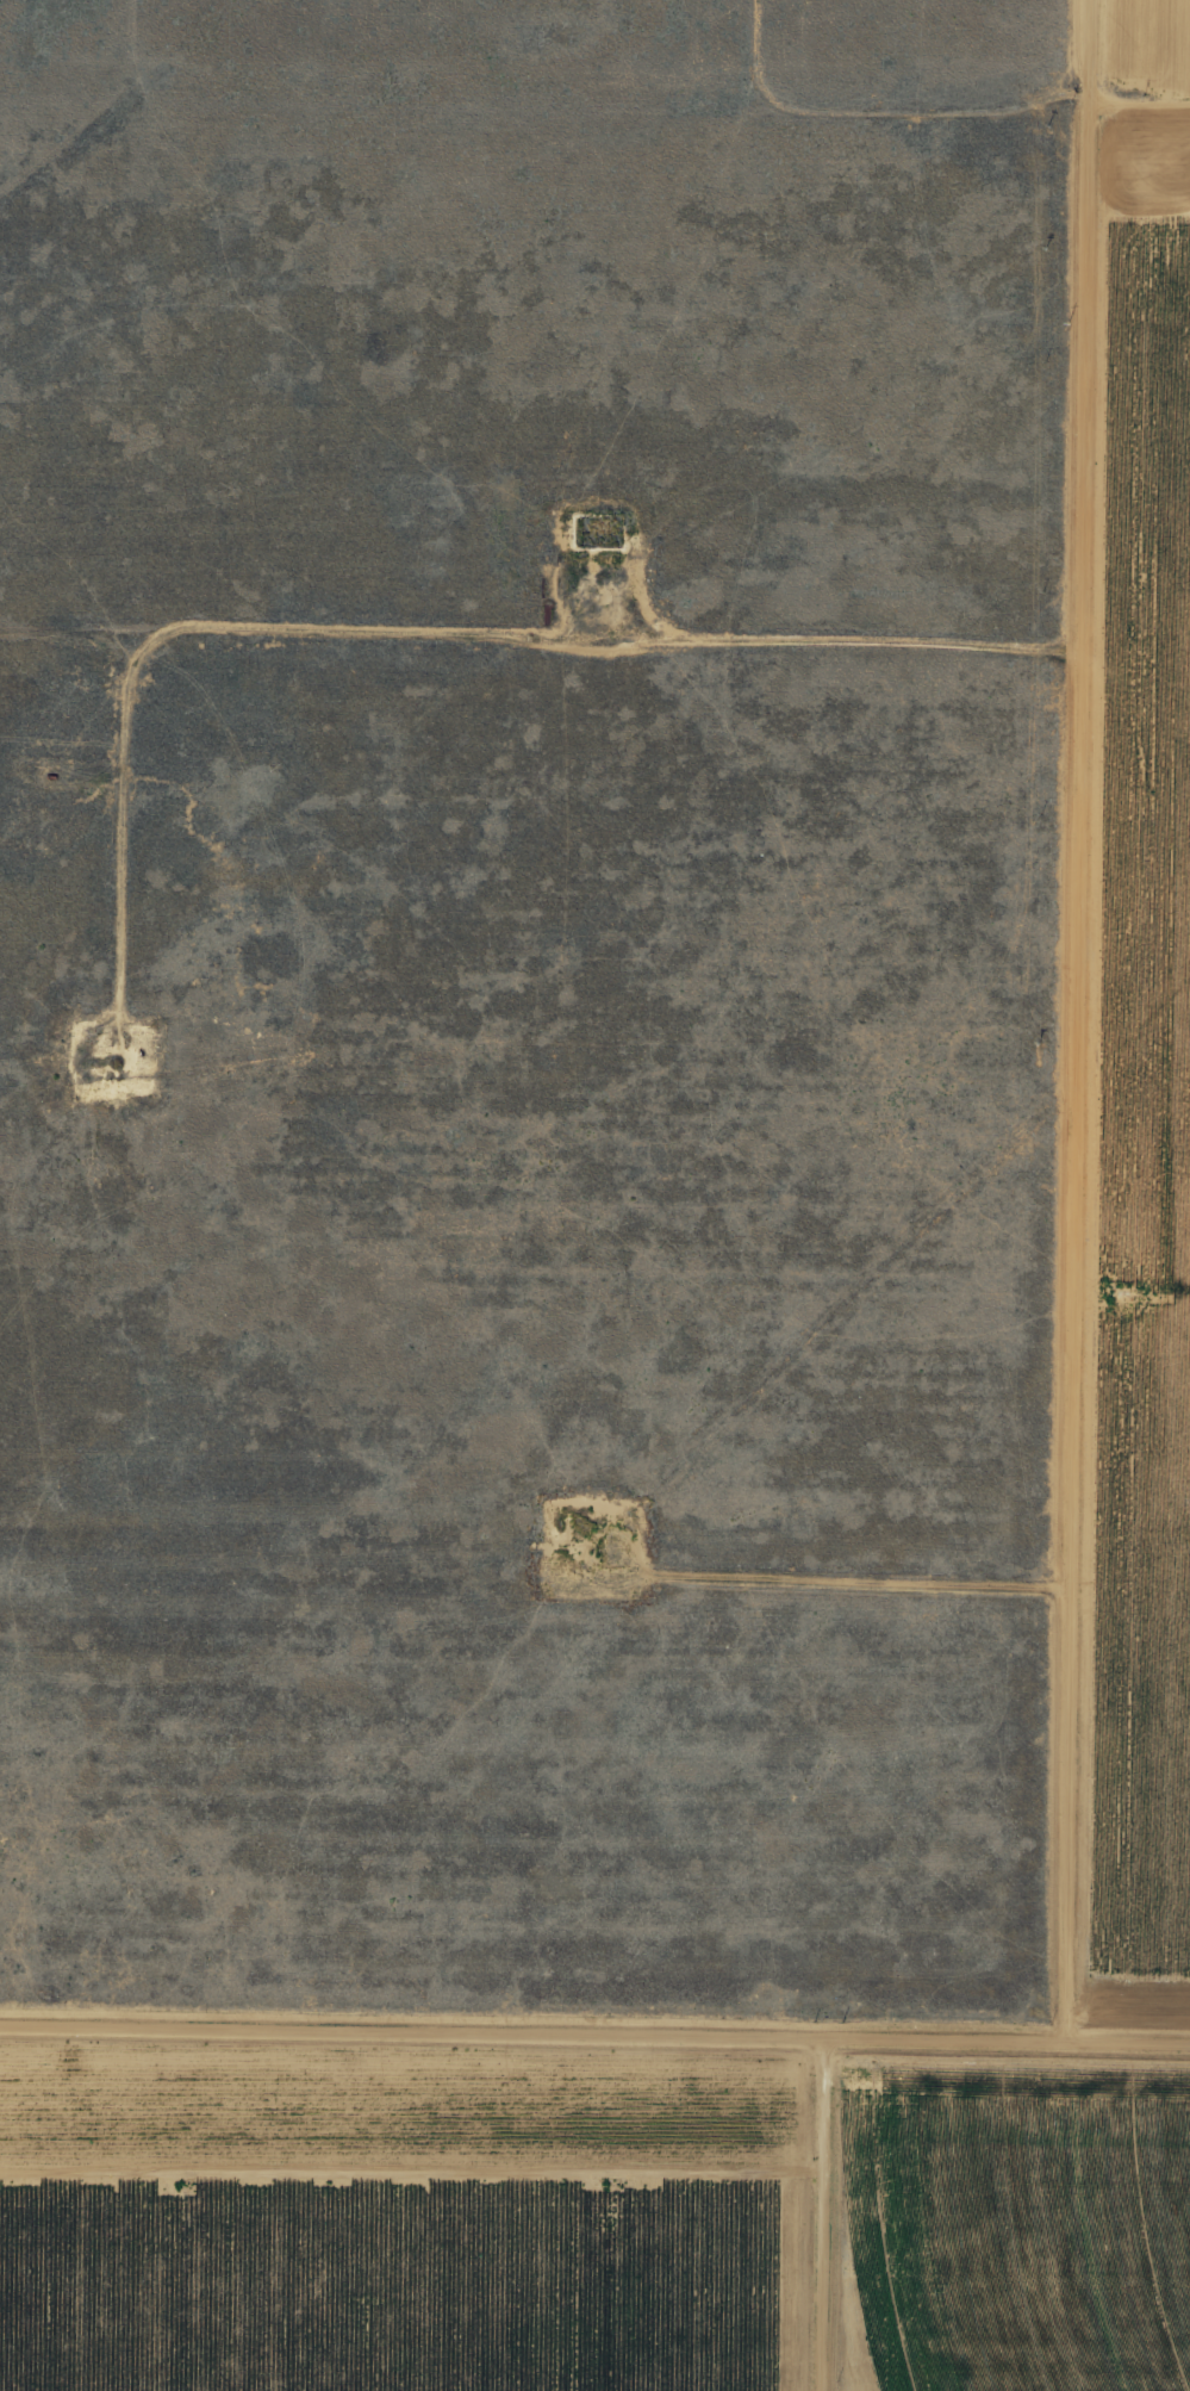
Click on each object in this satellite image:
road: (594, 95)
road: (1099, 1018)
road: (594, 2033)
road: (825, 2213)

